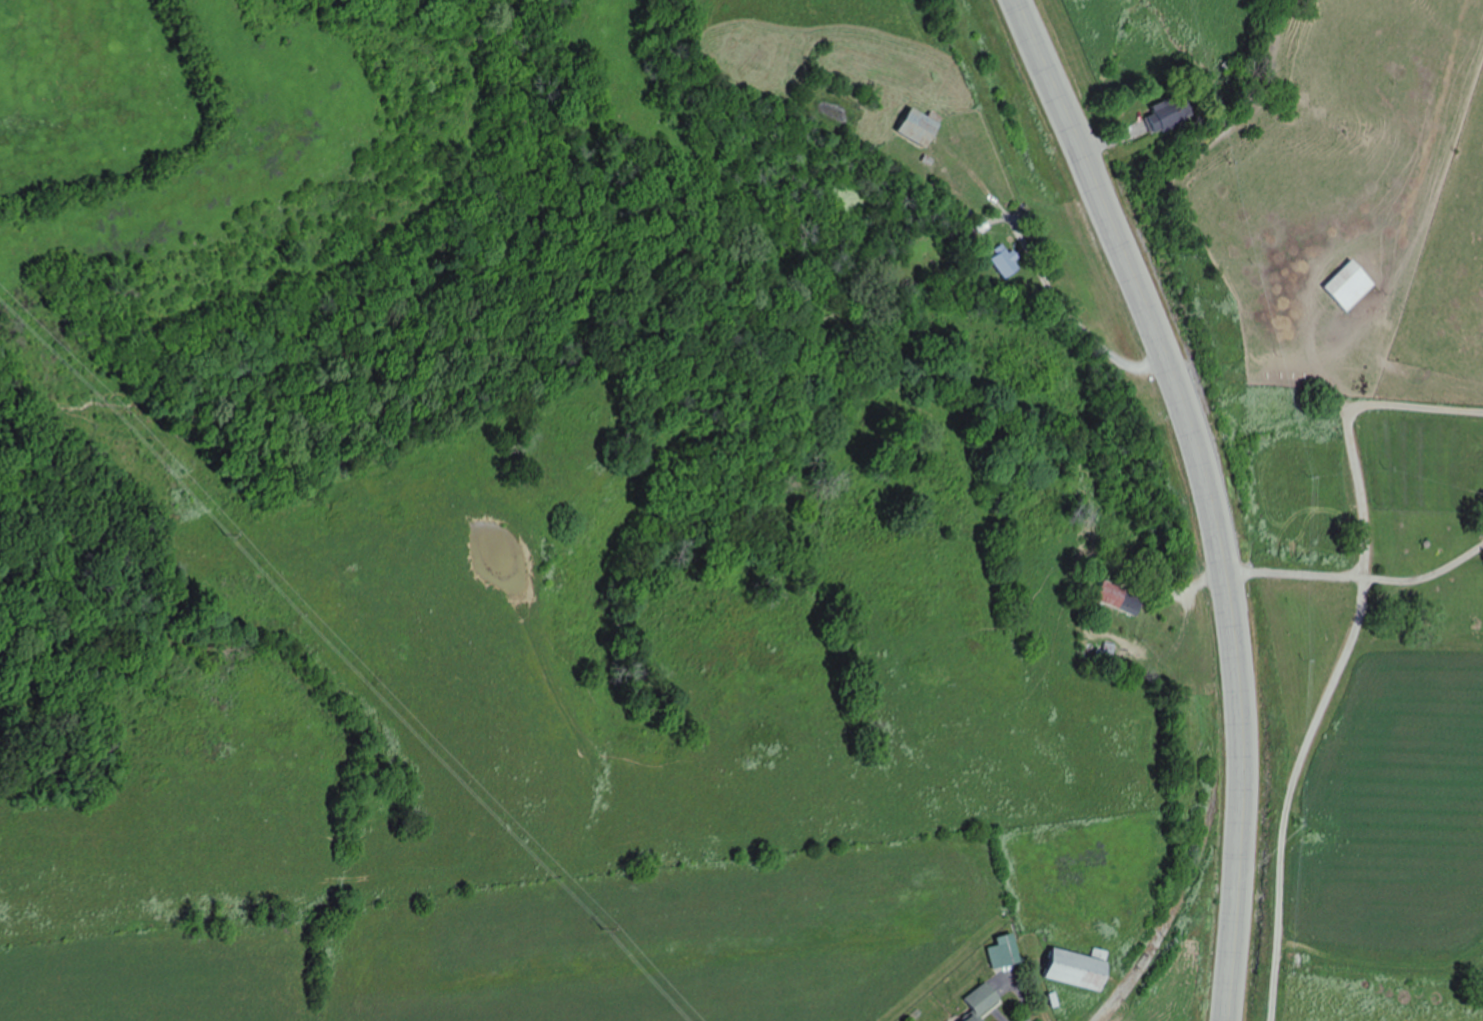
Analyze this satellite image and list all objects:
building: (1166, 118)
building: (920, 126)
building: (1006, 261)
building: (1352, 285)
road: (1206, 493)
road: (1352, 575)
building: (1120, 599)
road: (1345, 655)
power tower: (617, 927)
building: (1007, 945)
building: (1082, 968)
road: (1129, 987)
building: (983, 1001)

